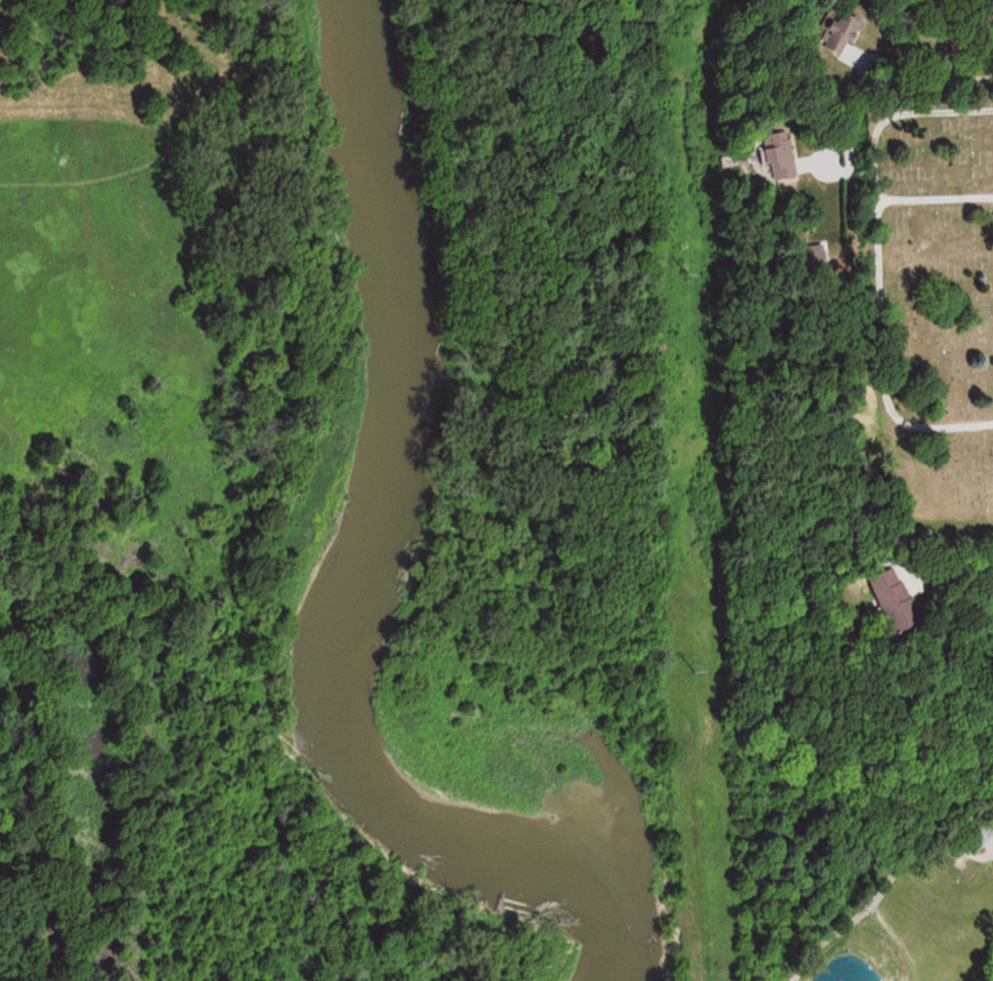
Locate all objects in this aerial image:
building: (848, 33)
building: (787, 156)
road: (938, 197)
road: (887, 260)
power tower: (686, 264)
park: (932, 319)
river: (335, 575)
building: (901, 605)
power tower: (702, 661)

